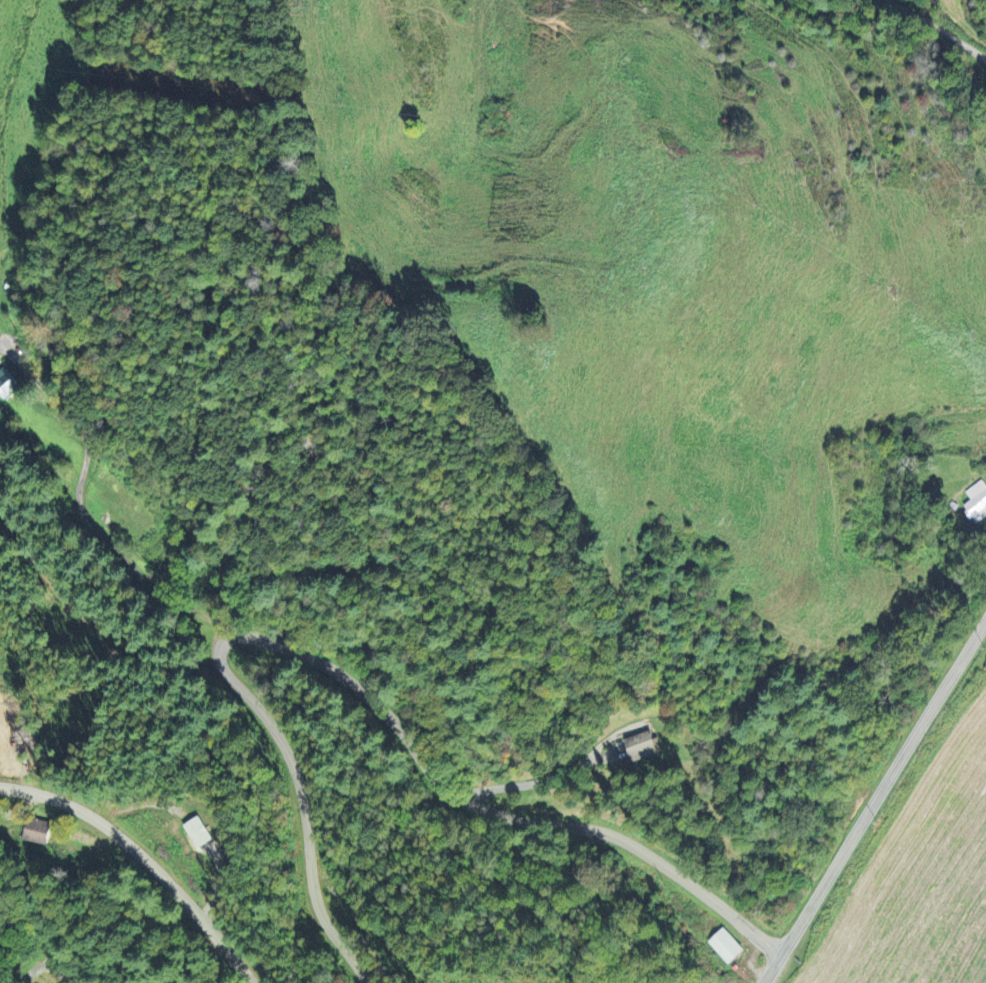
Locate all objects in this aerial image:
road: (936, 29)
building: (7, 382)
building: (976, 501)
road: (81, 512)
road: (348, 678)
building: (644, 746)
road: (875, 803)
building: (40, 831)
building: (198, 832)
road: (146, 858)
building: (727, 945)

